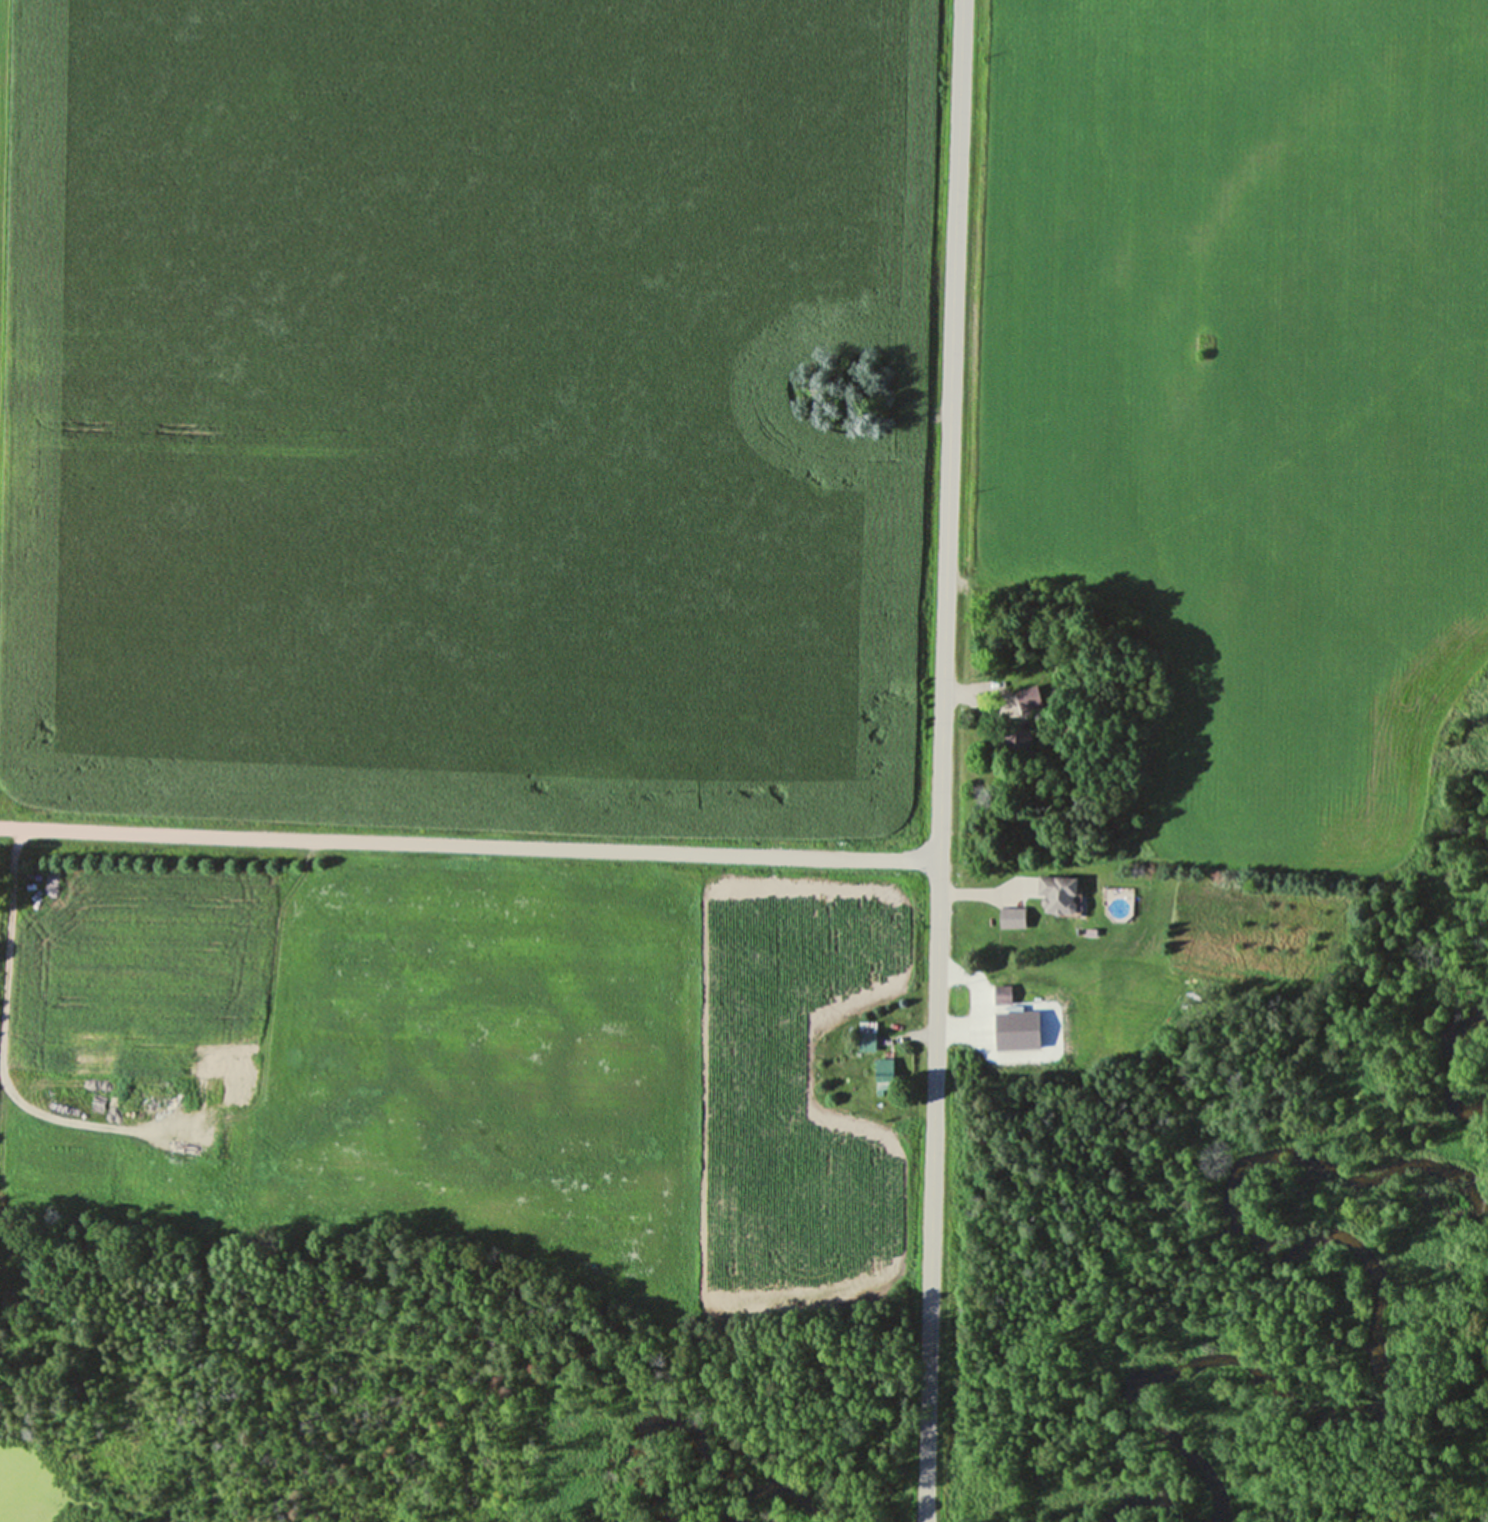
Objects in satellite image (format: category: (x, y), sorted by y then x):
building: (1005, 737)
road: (939, 760)
road: (468, 844)
building: (1055, 893)
building: (1014, 1005)
road: (3, 1037)
river: (1441, 1058)
building: (882, 1075)
river: (1375, 1367)
river: (665, 1417)

